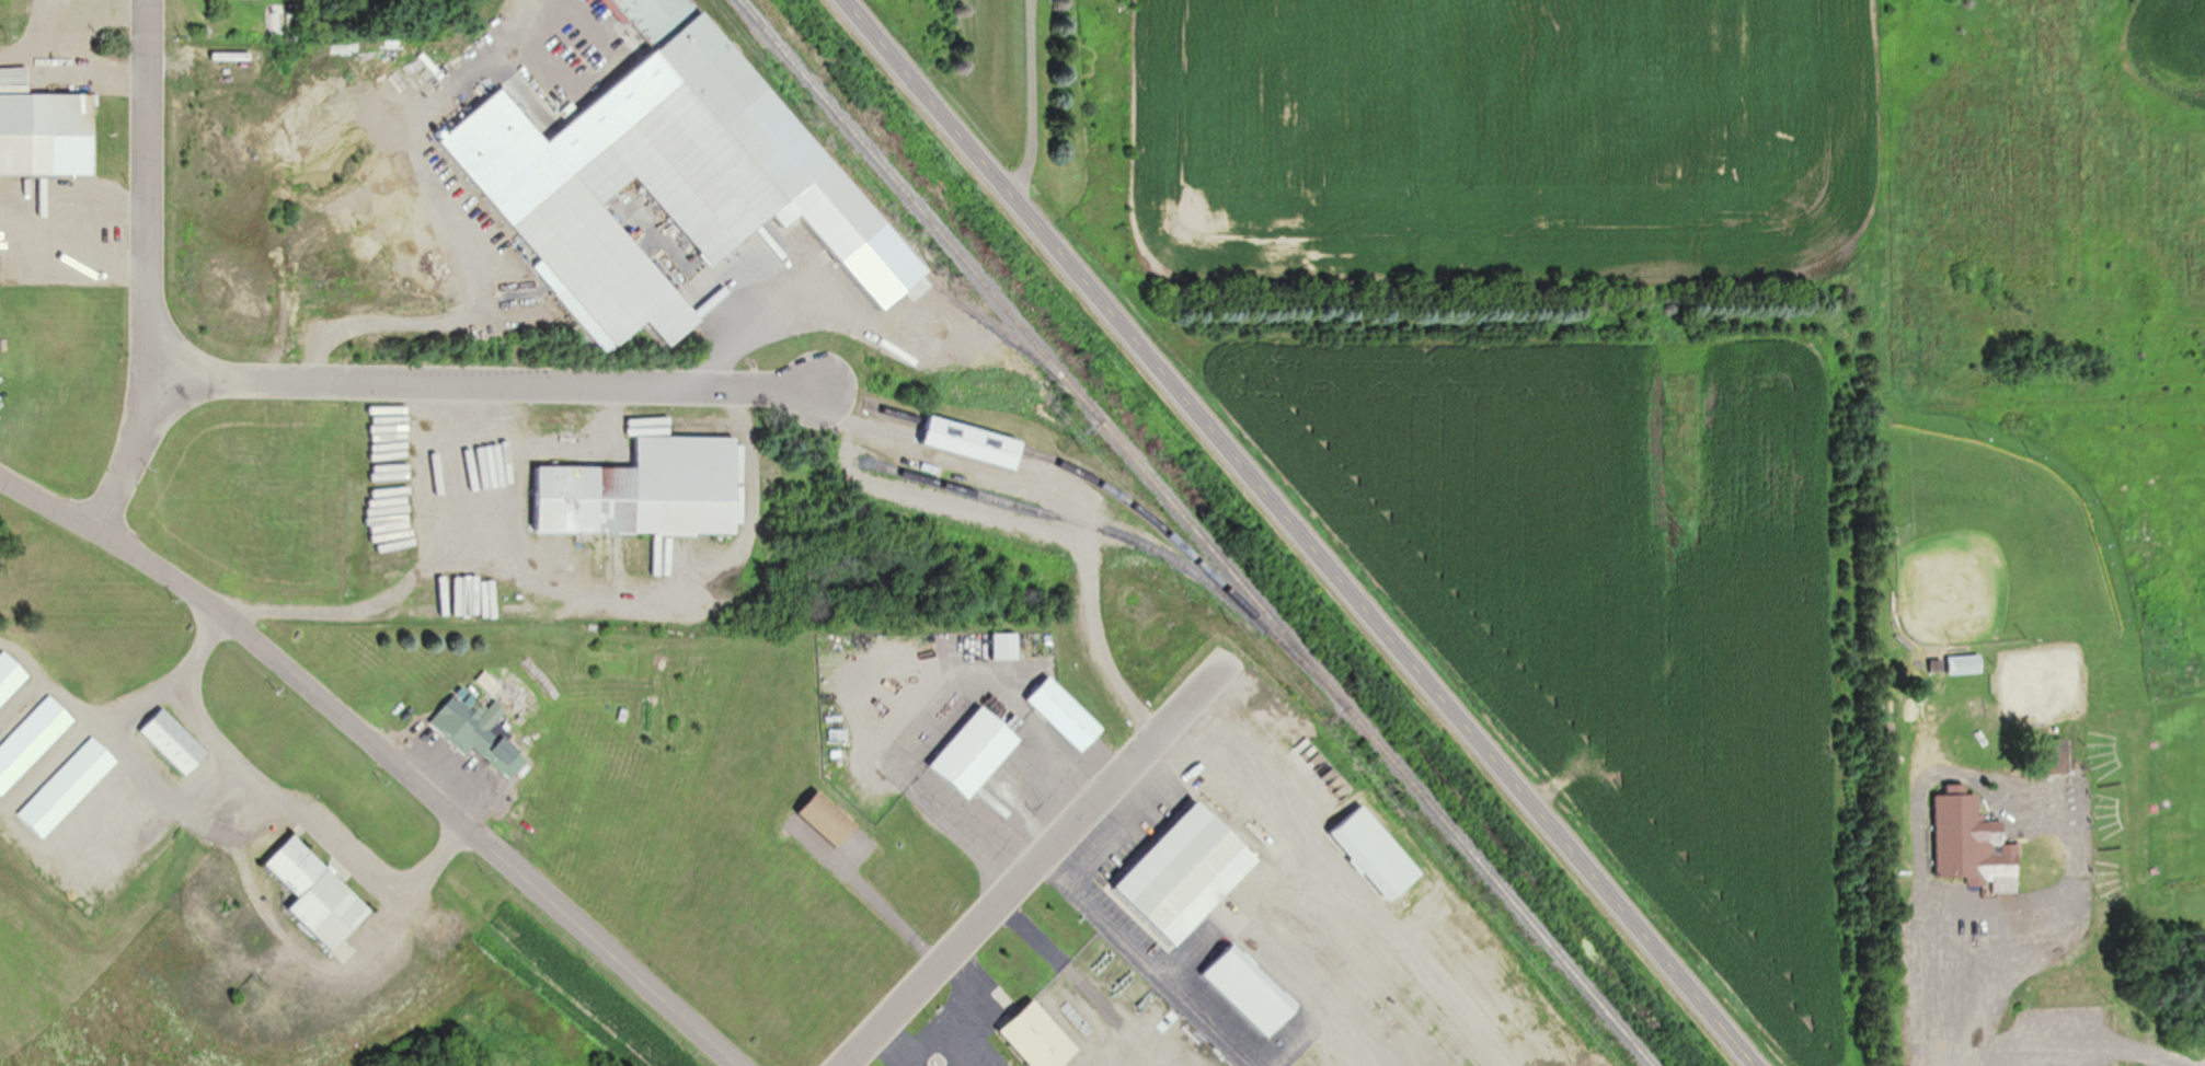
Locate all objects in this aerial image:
building: (647, 14)
building: (277, 18)
road: (1031, 101)
building: (50, 129)
building: (687, 181)
road: (146, 193)
road: (483, 386)
building: (976, 442)
road: (123, 460)
building: (646, 490)
road: (1068, 490)
railway: (1192, 533)
road: (1296, 533)
building: (1006, 646)
building: (1965, 663)
building: (10, 676)
road: (317, 703)
building: (481, 732)
building: (32, 741)
building: (174, 741)
building: (976, 752)
road: (279, 803)
road: (1145, 811)
building: (828, 819)
building: (1959, 833)
building: (1378, 854)
road: (1041, 860)
road: (1313, 871)
building: (1188, 873)
building: (319, 894)
road: (2026, 931)
road: (1144, 962)
building: (1514, 983)
road: (671, 1011)
building: (1040, 1038)
road: (1344, 1040)
road: (2072, 1047)

